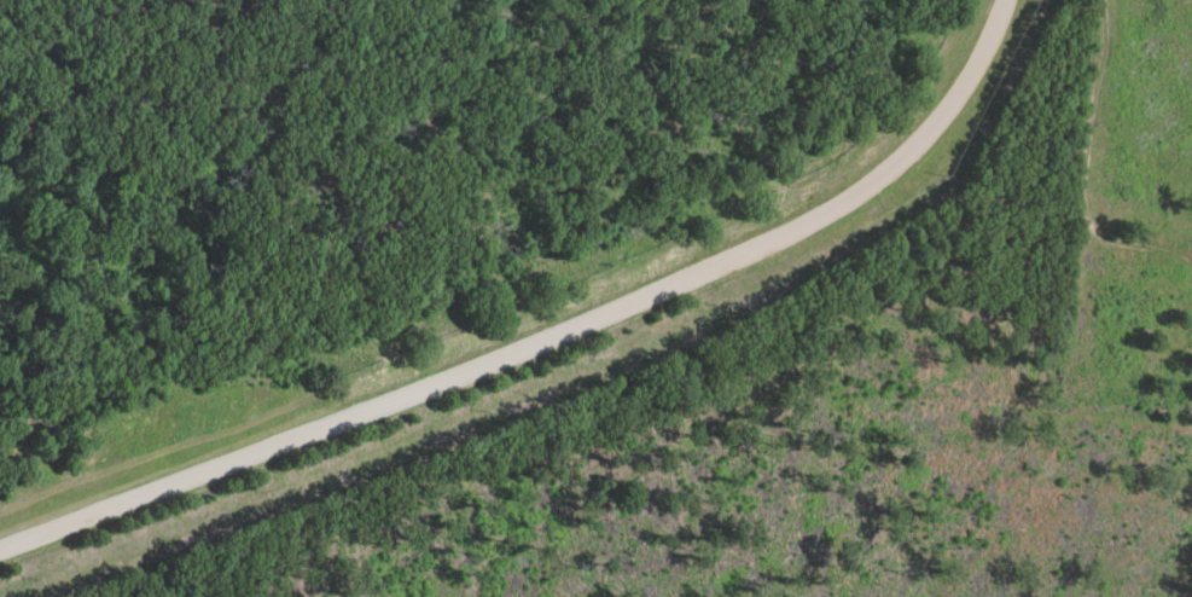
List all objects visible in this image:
road: (550, 337)

